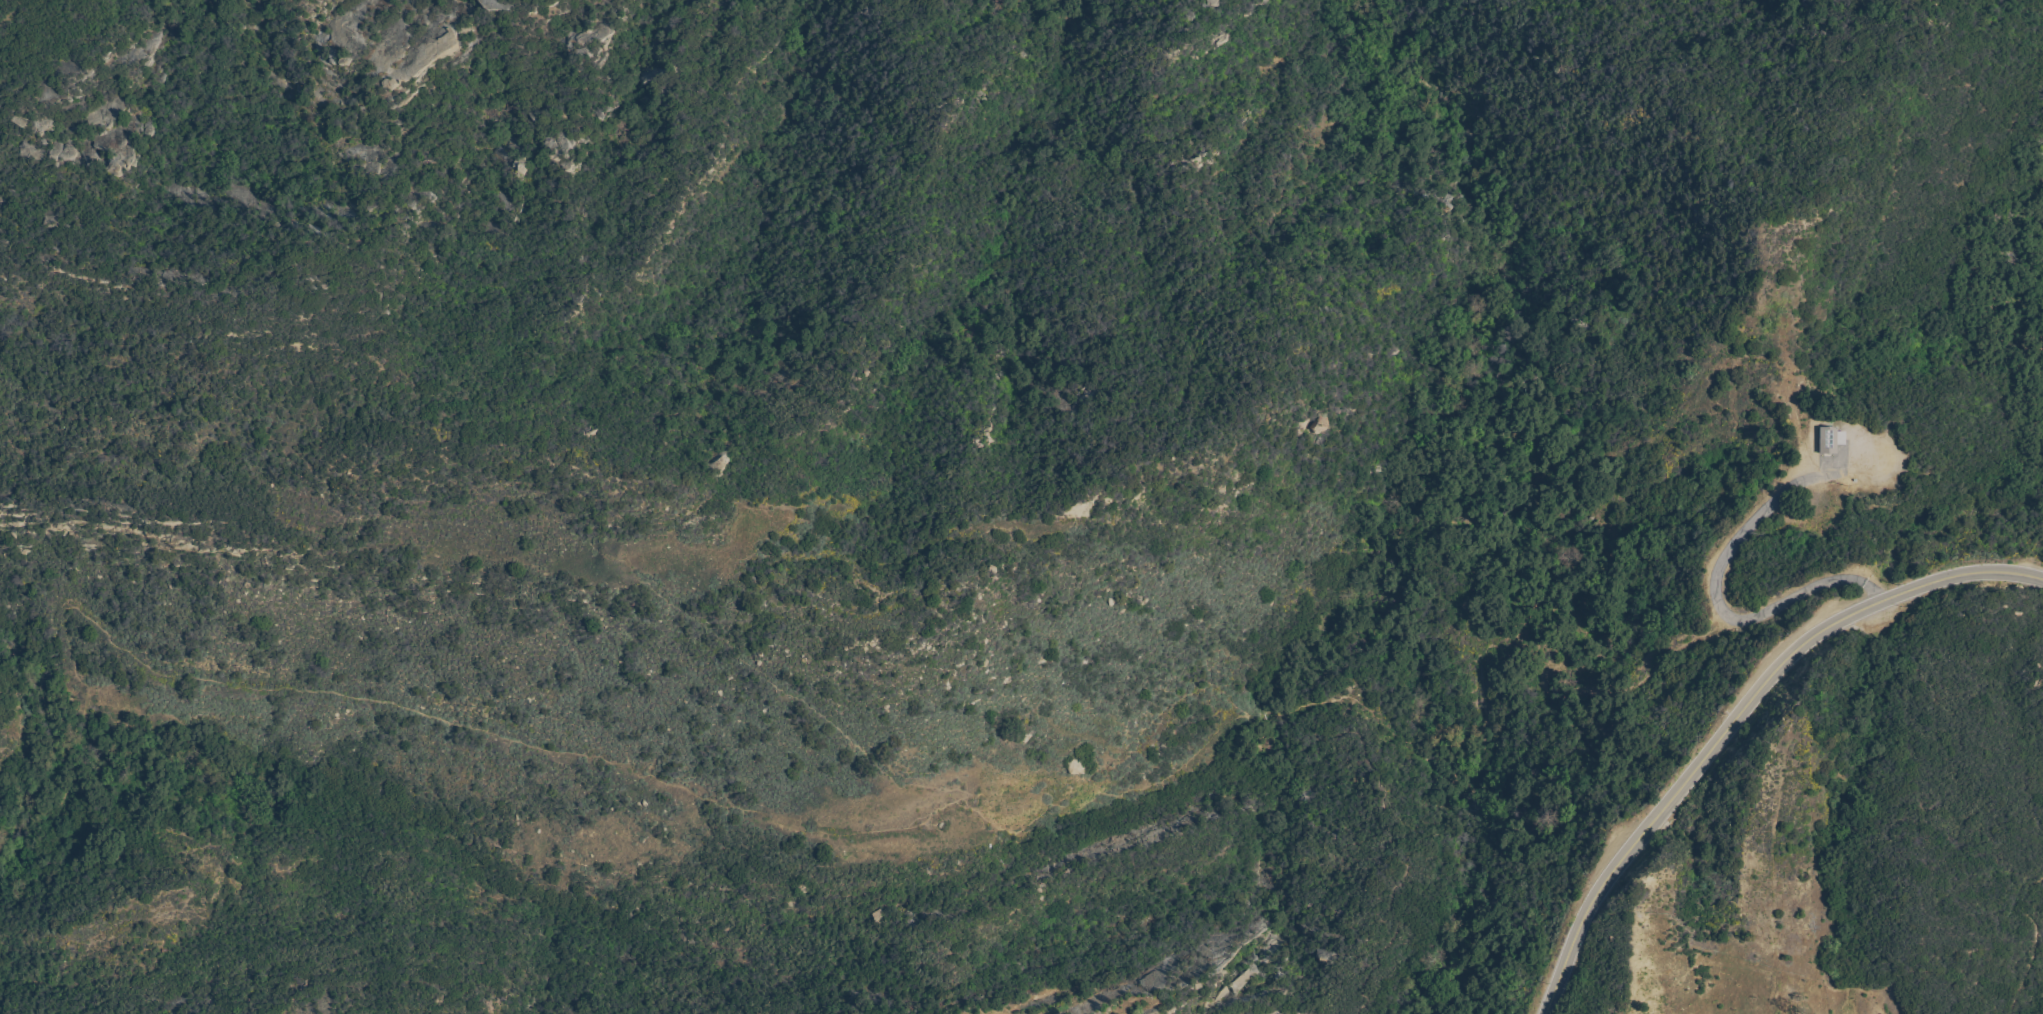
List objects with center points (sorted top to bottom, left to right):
building: (1830, 440)
road: (1719, 604)
road: (1738, 719)
road: (2032, 941)

